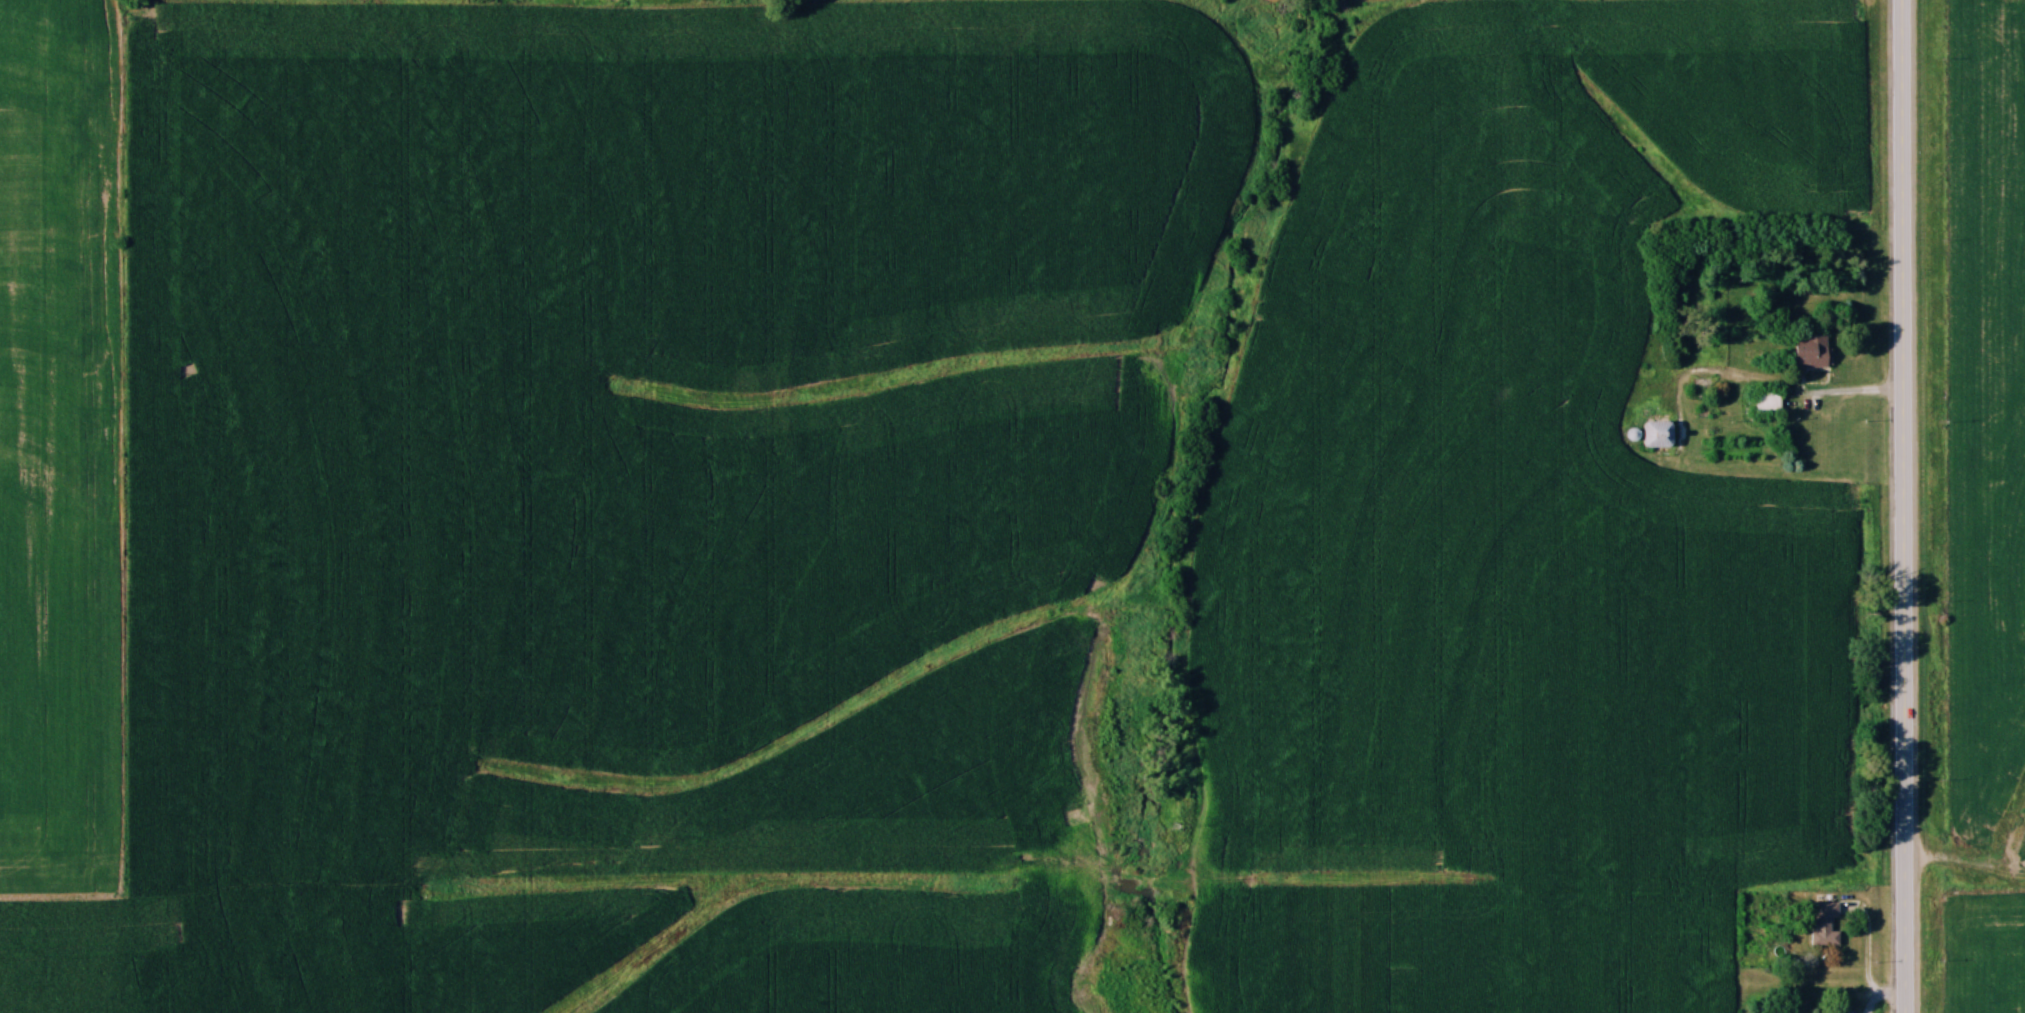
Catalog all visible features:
building: (1812, 351)
road: (1846, 394)
building: (1658, 434)
road: (1903, 506)
building: (1824, 925)
road: (1888, 999)

